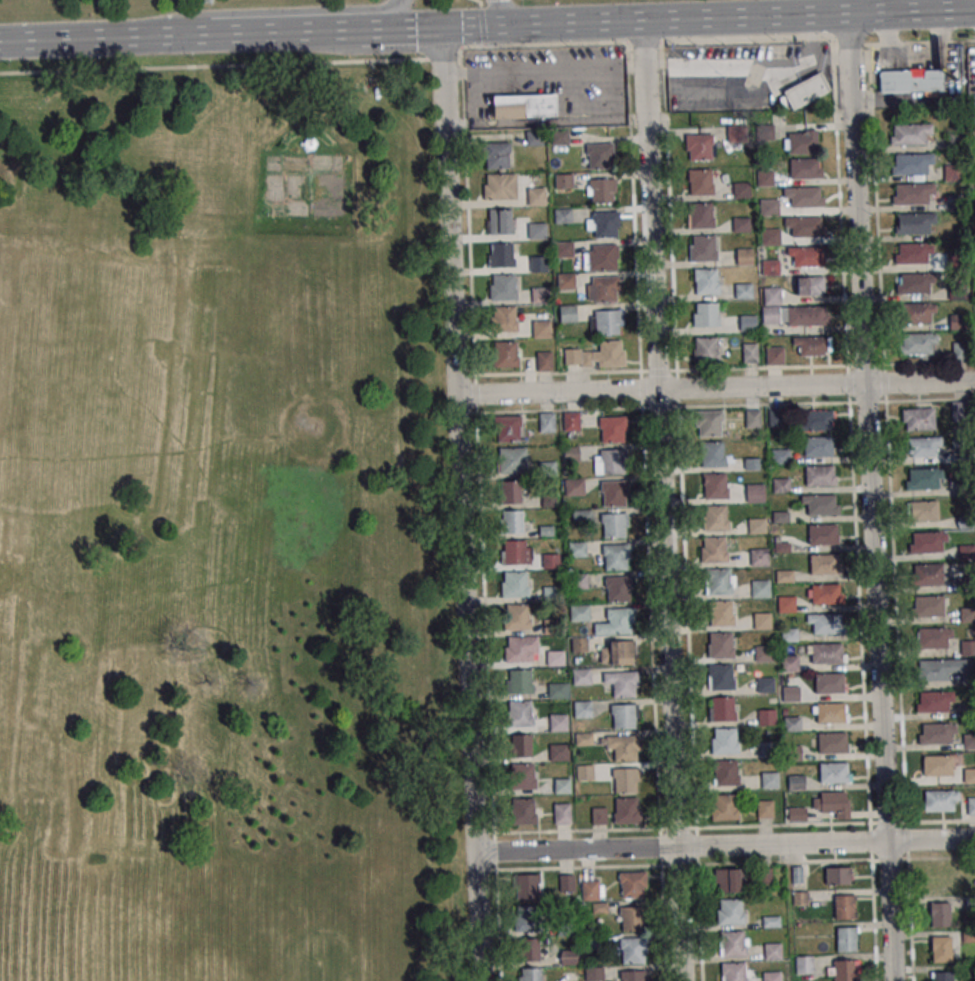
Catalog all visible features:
road: (266, 11)
road: (911, 11)
road: (503, 12)
road: (745, 17)
road: (480, 20)
road: (511, 24)
traffic signals: (511, 25)
road: (337, 30)
road: (147, 36)
road: (810, 42)
road: (486, 44)
road: (829, 59)
road: (723, 64)
building: (911, 81)
building: (806, 91)
building: (523, 106)
building: (910, 134)
building: (800, 142)
building: (307, 145)
building: (700, 147)
building: (496, 155)
building: (598, 156)
building: (912, 163)
building: (804, 169)
building: (953, 172)
building: (764, 178)
building: (564, 181)
building: (700, 182)
building: (499, 186)
building: (601, 190)
building: (741, 190)
building: (912, 194)
building: (536, 196)
building: (805, 198)
building: (769, 208)
road: (448, 212)
building: (700, 215)
building: (563, 216)
building: (500, 221)
building: (914, 223)
building: (602, 224)
building: (741, 225)
building: (806, 228)
building: (537, 231)
building: (770, 237)
building: (702, 248)
building: (912, 253)
building: (501, 255)
building: (600, 257)
building: (744, 257)
building: (807, 258)
building: (538, 264)
building: (770, 267)
building: (566, 281)
building: (706, 281)
building: (914, 283)
building: (809, 285)
building: (502, 287)
building: (603, 289)
building: (743, 290)
building: (540, 295)
building: (567, 313)
building: (918, 313)
building: (707, 314)
building: (806, 317)
building: (504, 318)
building: (605, 322)
building: (958, 322)
building: (747, 323)
building: (541, 328)
building: (918, 344)
building: (811, 346)
building: (705, 350)
building: (961, 350)
building: (749, 353)
building: (506, 354)
building: (597, 355)
building: (774, 355)
building: (544, 361)
road: (715, 388)
building: (959, 410)
building: (752, 418)
building: (918, 419)
building: (816, 420)
building: (571, 421)
building: (546, 422)
building: (708, 423)
building: (612, 428)
building: (509, 429)
building: (925, 446)
building: (817, 448)
building: (571, 454)
road: (643, 454)
building: (713, 454)
building: (780, 456)
building: (512, 459)
building: (612, 460)
building: (751, 463)
building: (819, 477)
building: (924, 479)
building: (780, 484)
building: (574, 486)
building: (714, 486)
building: (510, 491)
building: (614, 492)
building: (753, 493)
road: (868, 497)
road: (662, 501)
building: (821, 506)
building: (922, 510)
road: (682, 511)
building: (715, 518)
building: (512, 522)
building: (614, 525)
building: (756, 525)
park: (222, 531)
building: (822, 536)
building: (926, 542)
building: (577, 549)
building: (714, 549)
building: (516, 552)
building: (615, 556)
building: (756, 557)
building: (550, 561)
building: (824, 566)
building: (927, 575)
building: (784, 576)
building: (579, 581)
building: (719, 581)
building: (515, 584)
building: (618, 588)
building: (760, 588)
building: (826, 594)
building: (785, 604)
building: (927, 606)
building: (579, 613)
building: (721, 613)
building: (967, 614)
building: (518, 617)
building: (761, 621)
building: (616, 622)
building: (828, 624)
building: (932, 639)
building: (579, 644)
building: (719, 645)
building: (967, 646)
building: (521, 648)
building: (618, 652)
building: (763, 653)
building: (829, 654)
building: (555, 657)
building: (789, 663)
building: (941, 668)
building: (581, 676)
building: (719, 676)
building: (518, 681)
building: (622, 683)
building: (829, 683)
building: (765, 685)
road: (468, 689)
building: (558, 691)
building: (790, 693)
building: (934, 702)
building: (721, 709)
building: (519, 713)
building: (832, 713)
building: (624, 716)
building: (766, 716)
building: (558, 722)
building: (792, 724)
building: (936, 734)
building: (724, 740)
building: (968, 741)
building: (832, 743)
building: (520, 746)
building: (623, 747)
building: (558, 752)
building: (936, 765)
building: (584, 771)
building: (725, 772)
building: (834, 773)
building: (522, 775)
building: (969, 775)
building: (625, 779)
building: (770, 780)
building: (796, 783)
building: (562, 785)
building: (941, 800)
building: (833, 804)
building: (968, 806)
building: (724, 807)
building: (764, 809)
building: (523, 811)
building: (627, 811)
building: (562, 813)
building: (796, 814)
building: (598, 816)
road: (725, 846)
building: (837, 875)
building: (728, 880)
building: (567, 882)
building: (632, 884)
building: (528, 886)
building: (593, 894)
building: (843, 907)
building: (730, 911)
building: (940, 914)
building: (528, 918)
building: (632, 918)
road: (663, 923)
building: (846, 939)
building: (733, 944)
building: (528, 949)
building: (633, 950)
building: (941, 950)
building: (772, 951)
building: (568, 957)
building: (804, 964)
building: (844, 970)
building: (735, 972)
building: (529, 974)
building: (593, 974)
building: (633, 975)
building: (942, 976)

